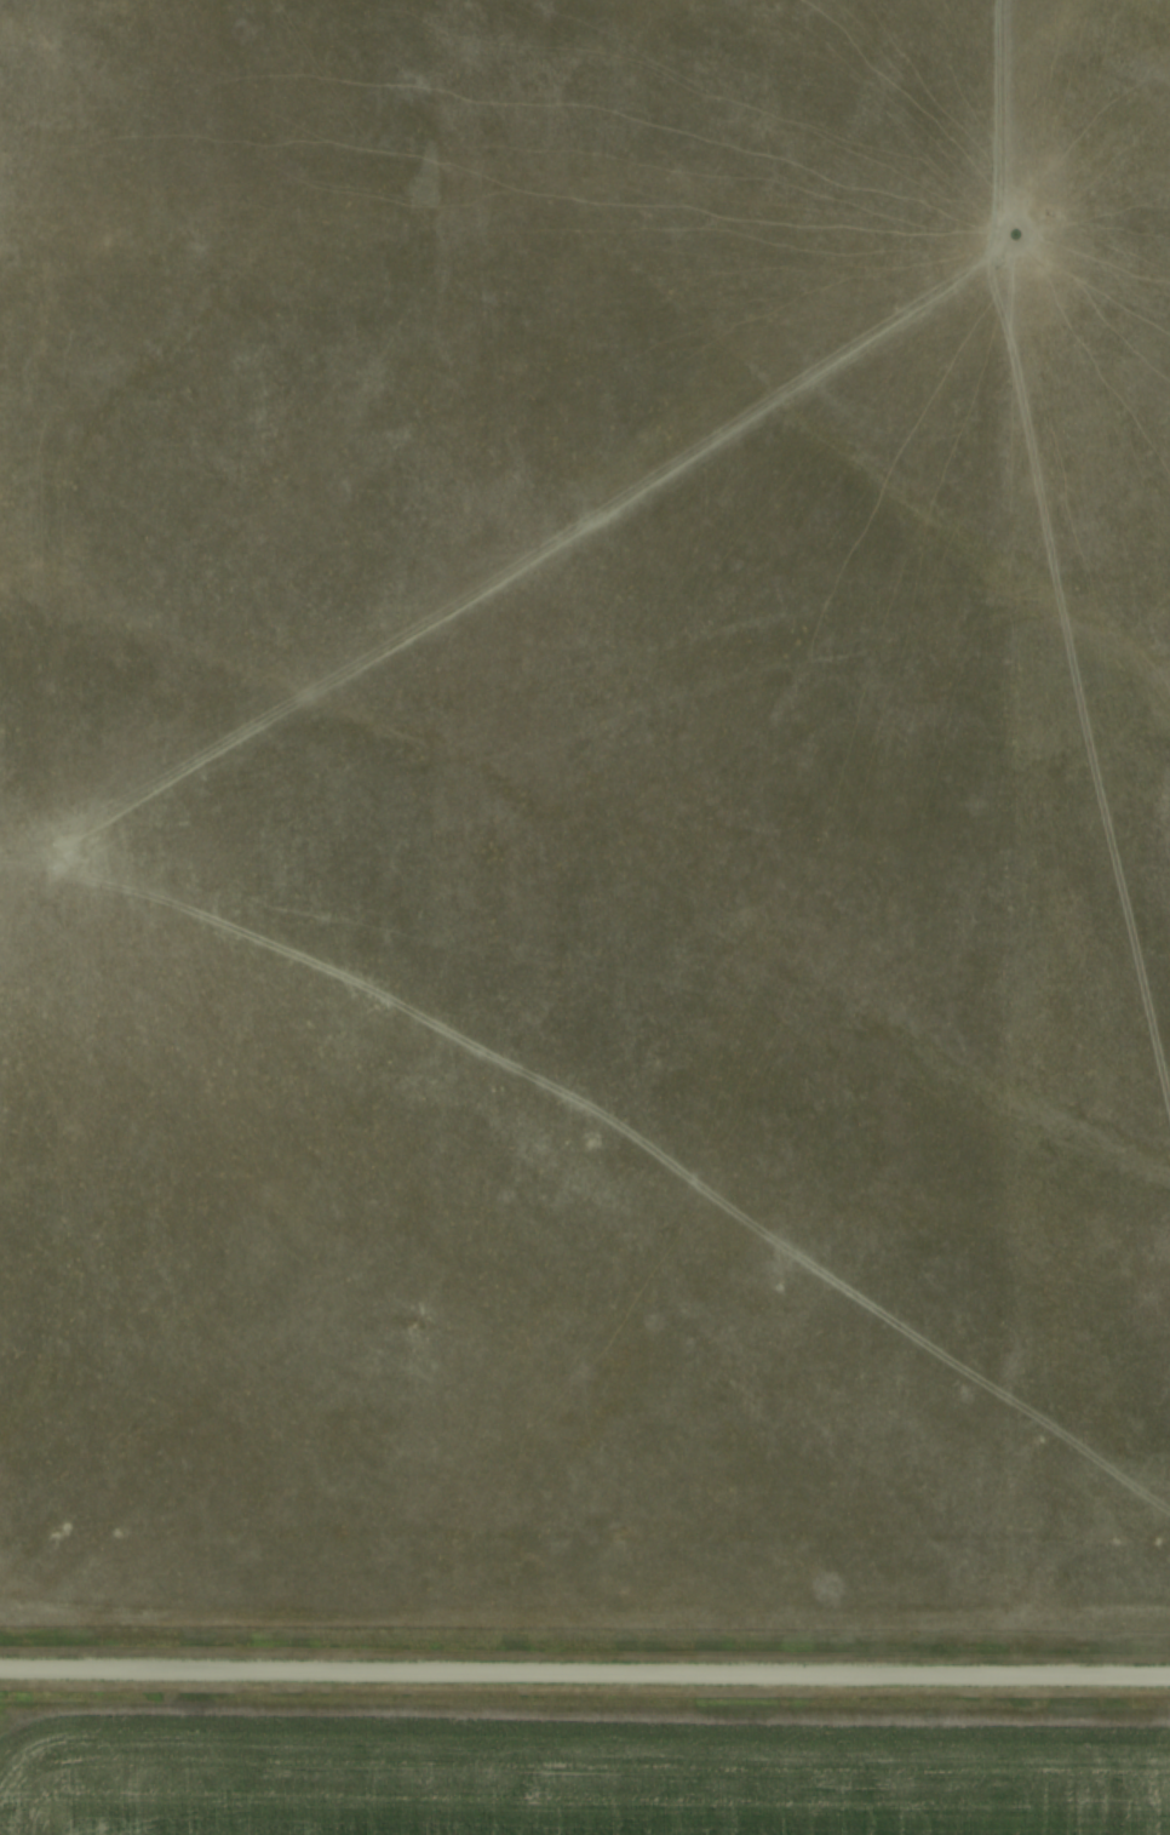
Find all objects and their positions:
road: (585, 1677)

